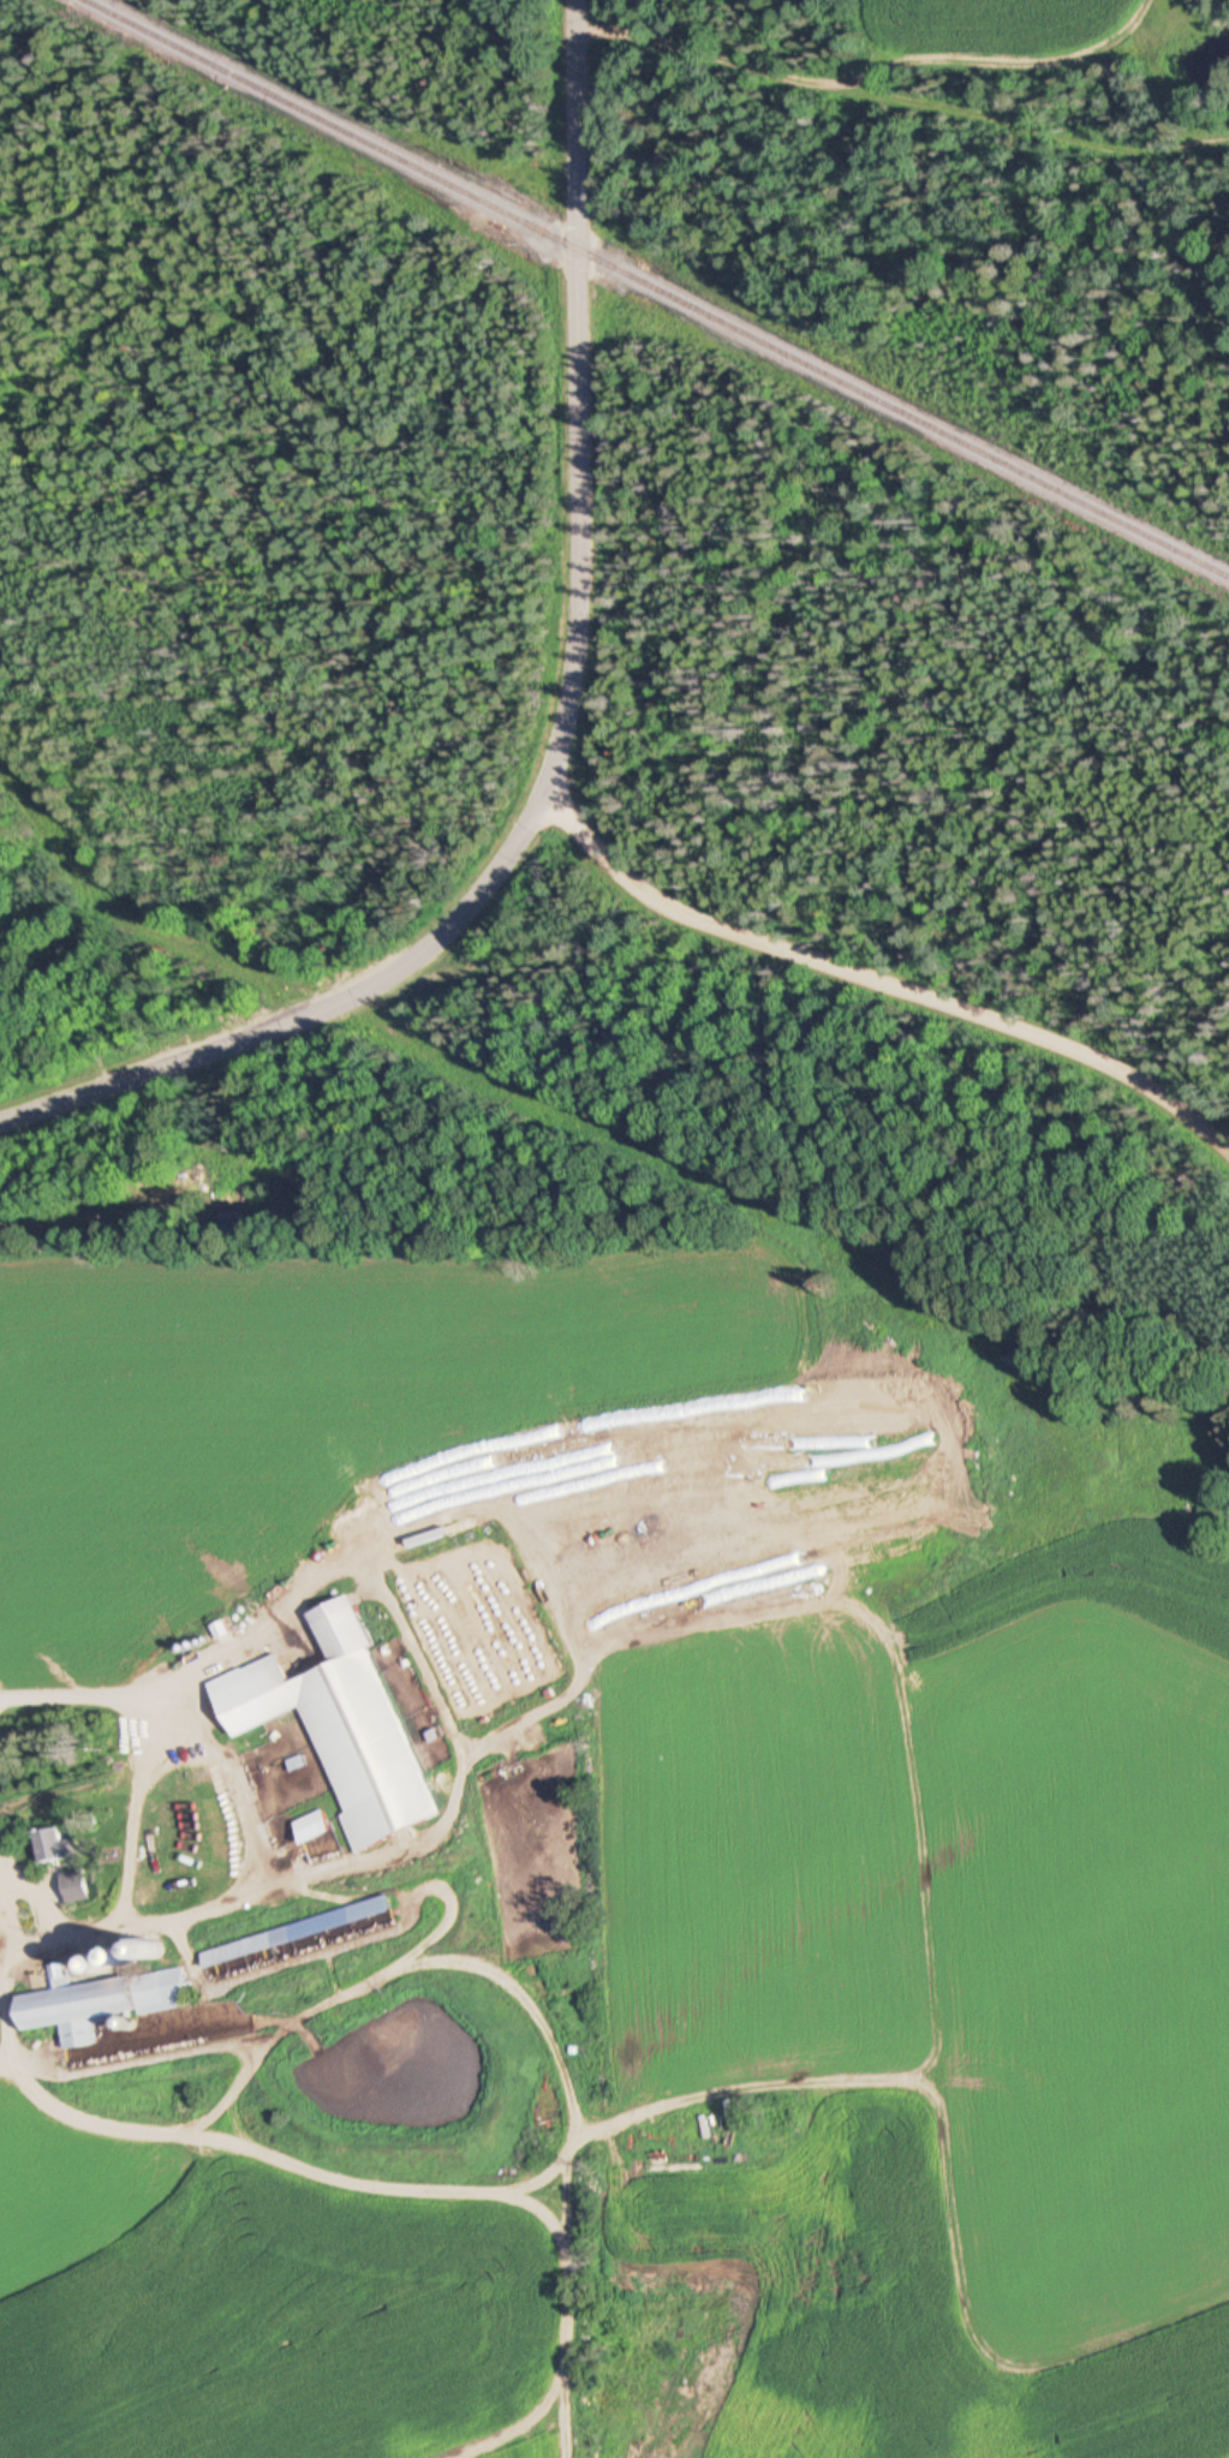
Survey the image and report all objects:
road: (574, 235)
railway: (645, 284)
road: (454, 933)
road: (876, 978)
road: (539, 1588)
building: (347, 1729)
road: (455, 1741)
road: (233, 1782)
road: (131, 1813)
building: (56, 1844)
road: (6, 1875)
building: (280, 1939)
road: (34, 1943)
road: (291, 1957)
building: (106, 2005)
road: (243, 2036)
road: (6, 2060)
road: (238, 2083)
road: (440, 2184)

